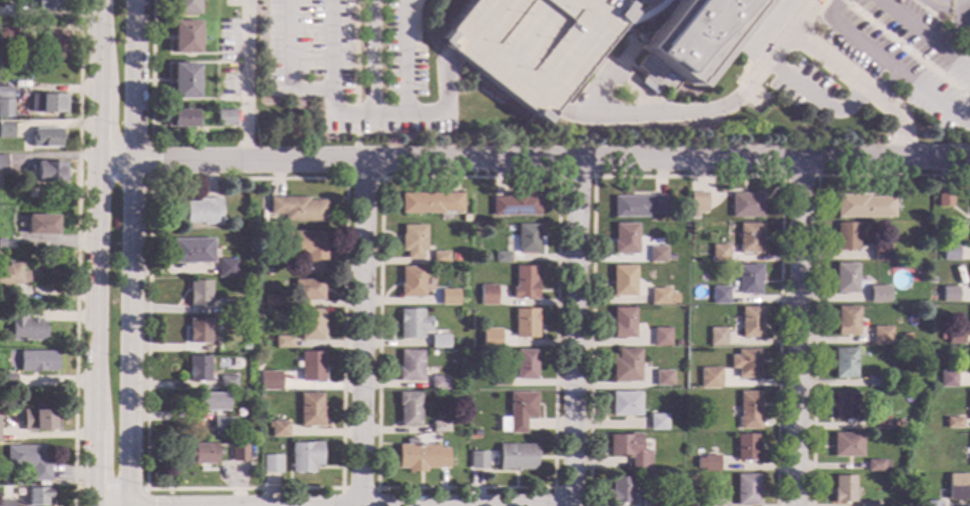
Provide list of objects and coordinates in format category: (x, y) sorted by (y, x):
building: (673, 0)
building: (772, 0)
road: (845, 3)
building: (47, 5)
road: (949, 5)
building: (184, 7)
road: (633, 8)
road: (654, 8)
road: (823, 8)
building: (7, 13)
building: (645, 13)
road: (416, 23)
road: (954, 27)
building: (8, 34)
parking lot: (921, 36)
road: (923, 36)
building: (185, 37)
building: (696, 40)
road: (766, 40)
building: (56, 45)
road: (328, 45)
building: (531, 45)
parking lot: (531, 45)
road: (910, 53)
road: (629, 54)
road: (372, 58)
parking lot: (353, 65)
road: (893, 67)
parking lot: (898, 71)
road: (151, 72)
road: (844, 76)
road: (619, 77)
building: (184, 81)
road: (248, 81)
road: (356, 81)
road: (887, 86)
road: (799, 88)
parking lot: (804, 89)
building: (5, 92)
road: (752, 93)
parking lot: (759, 99)
building: (48, 103)
road: (445, 105)
building: (6, 108)
road: (672, 114)
road: (347, 117)
building: (225, 118)
building: (180, 119)
building: (6, 131)
building: (46, 138)
road: (534, 161)
building: (3, 163)
road: (151, 163)
building: (50, 172)
road: (799, 177)
road: (557, 178)
road: (576, 178)
road: (688, 178)
road: (354, 179)
building: (943, 199)
building: (696, 202)
building: (429, 203)
building: (515, 205)
building: (744, 205)
building: (637, 206)
building: (862, 206)
building: (296, 209)
building: (202, 211)
building: (464, 218)
building: (41, 225)
building: (845, 237)
building: (527, 238)
building: (749, 238)
building: (624, 239)
building: (412, 241)
building: (1, 244)
building: (305, 249)
building: (191, 251)
road: (77, 253)
road: (98, 253)
road: (130, 253)
building: (718, 253)
building: (880, 253)
building: (949, 253)
building: (656, 254)
building: (501, 257)
building: (439, 258)
road: (815, 265)
building: (225, 268)
building: (267, 272)
building: (11, 276)
building: (845, 278)
building: (747, 279)
building: (622, 281)
building: (411, 282)
building: (523, 283)
building: (307, 290)
building: (198, 293)
building: (878, 294)
building: (949, 294)
building: (487, 295)
building: (719, 295)
building: (661, 297)
building: (439, 299)
building: (273, 300)
building: (230, 305)
building: (846, 321)
building: (750, 322)
building: (524, 323)
building: (622, 323)
building: (411, 324)
building: (23, 325)
building: (311, 325)
building: (197, 331)
road: (575, 333)
road: (797, 333)
road: (362, 334)
building: (716, 336)
building: (880, 336)
building: (941, 336)
building: (660, 337)
building: (953, 337)
building: (497, 341)
building: (283, 342)
building: (438, 342)
building: (244, 346)
building: (37, 361)
building: (745, 363)
building: (843, 363)
building: (525, 365)
building: (311, 366)
building: (409, 366)
building: (625, 366)
building: (197, 368)
building: (662, 378)
building: (709, 378)
building: (946, 379)
building: (226, 381)
building: (499, 381)
building: (875, 381)
building: (7, 382)
building: (278, 382)
building: (437, 383)
building: (210, 402)
building: (624, 404)
building: (968, 405)
building: (842, 406)
building: (407, 409)
building: (310, 410)
building: (748, 410)
building: (517, 412)
building: (38, 419)
building: (877, 420)
building: (656, 422)
building: (952, 422)
building: (221, 425)
building: (438, 427)
building: (277, 429)
building: (846, 445)
building: (746, 448)
building: (629, 450)
building: (969, 450)
building: (966, 452)
building: (238, 453)
building: (200, 456)
building: (419, 456)
building: (304, 457)
building: (516, 457)
building: (477, 460)
building: (28, 461)
building: (271, 464)
building: (706, 464)
building: (875, 466)
building: (958, 487)
road: (341, 488)
road: (358, 489)
building: (842, 489)
building: (745, 490)
building: (627, 493)
building: (37, 496)
road: (553, 497)
building: (709, 501)
building: (5, 503)
building: (931, 503)
building: (867, 504)

